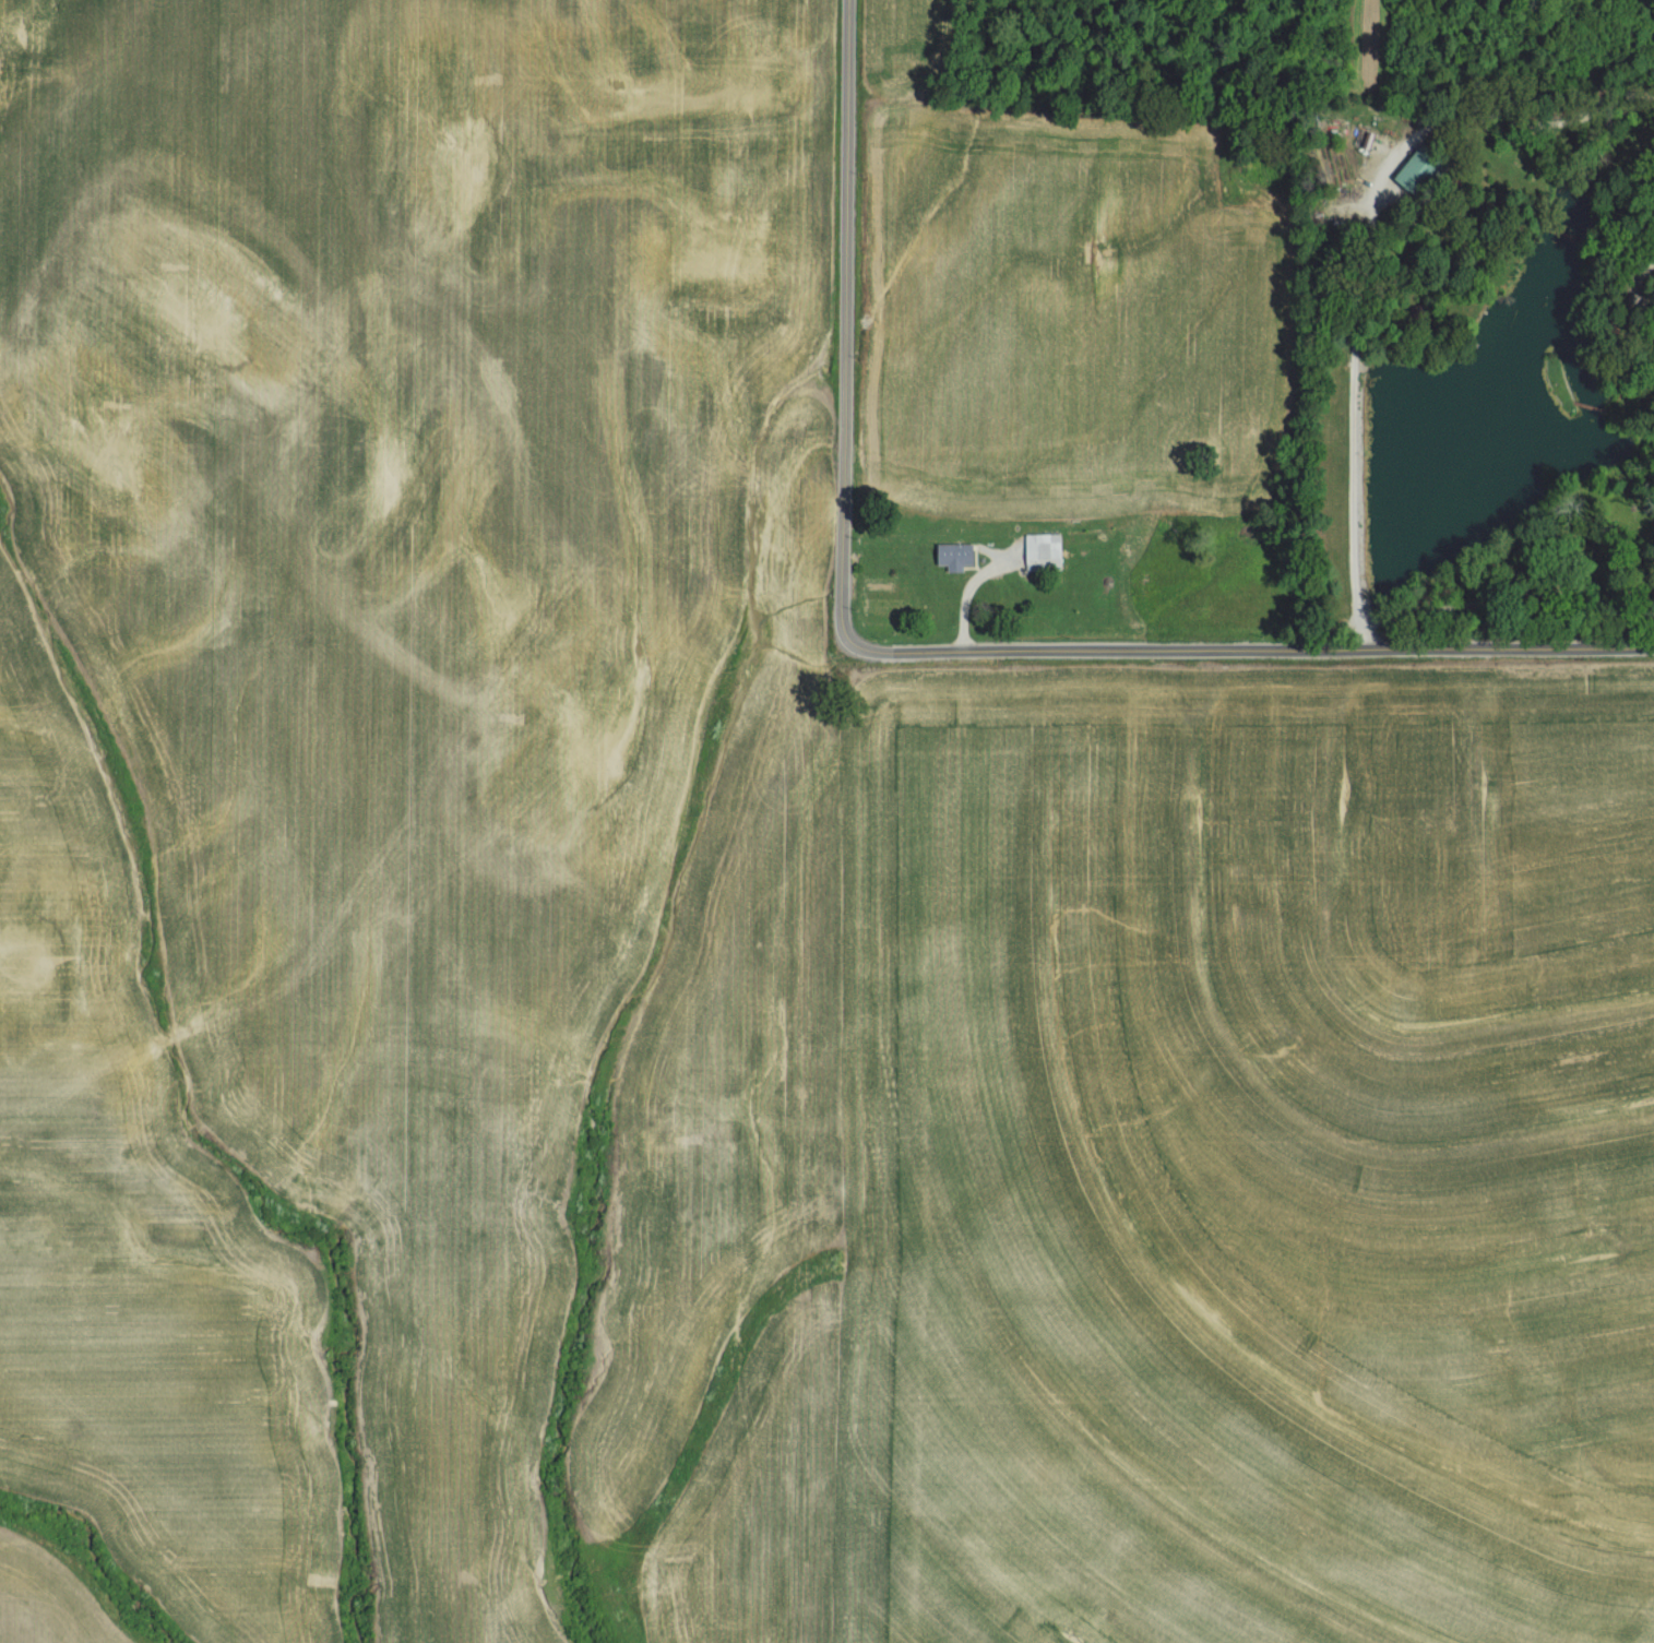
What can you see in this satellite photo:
road: (1522, 122)
building: (1415, 172)
road: (833, 318)
road: (1357, 401)
building: (1042, 553)
building: (953, 557)
road: (954, 616)
road: (1245, 652)

